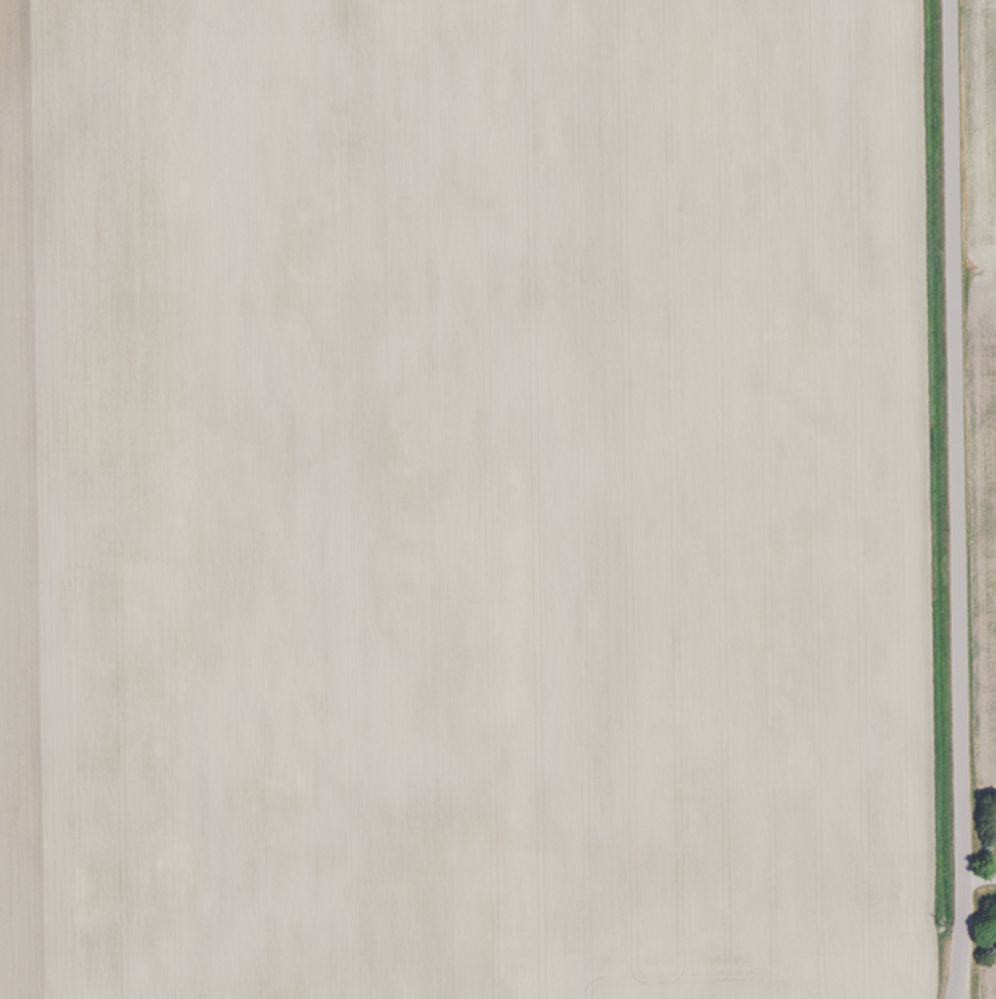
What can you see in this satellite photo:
road: (959, 499)

